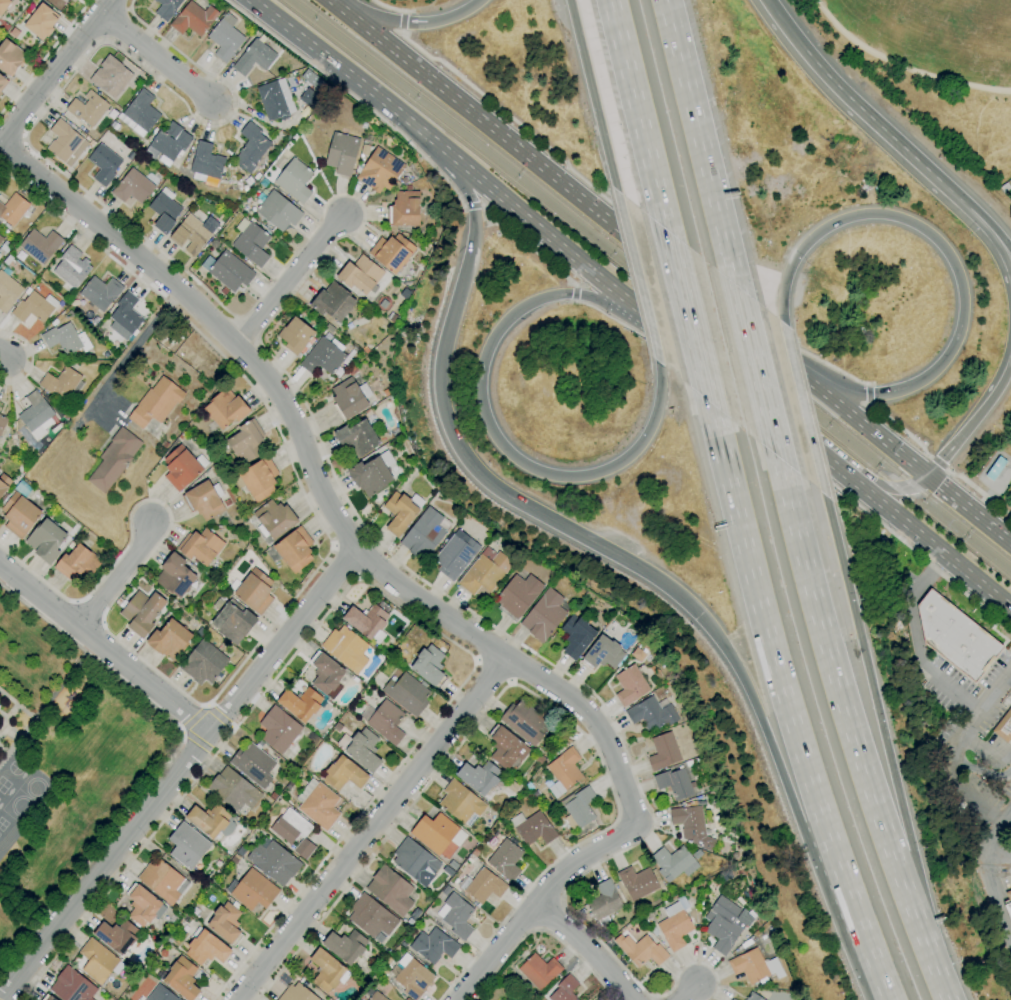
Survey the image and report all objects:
building: (71, 1)
building: (3, 5)
road: (392, 7)
building: (166, 8)
road: (127, 9)
road: (404, 12)
building: (193, 19)
building: (40, 21)
road: (403, 22)
road: (409, 22)
road: (114, 23)
road: (782, 30)
road: (401, 31)
building: (12, 32)
building: (225, 38)
road: (103, 39)
road: (44, 56)
building: (10, 57)
road: (156, 57)
building: (254, 58)
road: (903, 64)
road: (446, 67)
road: (55, 69)
park: (939, 69)
building: (110, 76)
building: (2, 83)
building: (0, 94)
road: (593, 95)
road: (352, 96)
building: (309, 99)
building: (272, 101)
building: (87, 108)
building: (142, 111)
road: (641, 117)
road: (872, 126)
road: (23, 140)
building: (170, 141)
building: (65, 143)
road: (702, 145)
building: (250, 147)
building: (364, 149)
building: (342, 153)
road: (10, 154)
building: (206, 161)
building: (104, 164)
building: (379, 170)
building: (294, 180)
building: (133, 187)
road: (492, 188)
building: (1004, 188)
road: (471, 206)
building: (13, 209)
building: (404, 209)
building: (277, 211)
building: (164, 213)
road: (982, 216)
road: (647, 231)
building: (194, 233)
building: (0, 236)
road: (985, 236)
road: (628, 237)
building: (1, 239)
building: (252, 244)
building: (40, 245)
road: (527, 246)
building: (4, 248)
building: (391, 252)
road: (950, 259)
building: (72, 267)
road: (180, 269)
building: (230, 271)
building: (359, 275)
road: (639, 278)
railway: (656, 279)
road: (289, 282)
railway: (648, 287)
building: (8, 292)
building: (100, 292)
road: (575, 293)
building: (333, 303)
building: (32, 308)
building: (126, 313)
road: (690, 321)
building: (295, 336)
building: (65, 339)
road: (133, 347)
building: (323, 356)
road: (1, 358)
road: (31, 359)
road: (835, 369)
road: (759, 377)
building: (60, 383)
road: (869, 385)
road: (869, 394)
building: (349, 398)
building: (155, 403)
road: (756, 403)
road: (868, 405)
building: (226, 408)
building: (35, 411)
road: (806, 412)
road: (973, 417)
road: (486, 420)
building: (2, 422)
road: (899, 427)
building: (356, 439)
building: (246, 442)
road: (811, 447)
road: (791, 452)
building: (114, 460)
road: (938, 463)
building: (180, 468)
building: (995, 468)
building: (372, 474)
traffic signals: (927, 476)
building: (259, 479)
building: (4, 483)
road: (883, 489)
road: (978, 491)
building: (203, 501)
building: (226, 503)
road: (969, 509)
building: (399, 513)
building: (19, 515)
building: (248, 515)
building: (274, 519)
building: (423, 535)
road: (925, 539)
building: (46, 541)
building: (200, 546)
road: (334, 546)
building: (294, 549)
road: (606, 554)
building: (455, 555)
road: (347, 560)
building: (77, 564)
building: (485, 572)
road: (116, 576)
building: (174, 576)
road: (358, 576)
road: (401, 585)
road: (372, 586)
building: (254, 591)
building: (517, 596)
building: (142, 612)
building: (544, 616)
traffic signals: (698, 616)
building: (367, 619)
building: (233, 621)
road: (267, 631)
building: (576, 636)
building: (955, 636)
building: (169, 639)
road: (918, 640)
road: (105, 648)
building: (346, 649)
building: (394, 654)
building: (602, 654)
road: (539, 656)
road: (477, 660)
building: (203, 663)
building: (429, 665)
road: (494, 669)
building: (325, 673)
road: (510, 681)
building: (630, 685)
road: (524, 691)
building: (407, 694)
parking lot: (968, 701)
building: (300, 704)
road: (205, 707)
road: (788, 707)
building: (651, 714)
road: (192, 720)
building: (524, 721)
building: (386, 722)
building: (337, 727)
building: (1004, 727)
building: (279, 729)
road: (851, 730)
road: (183, 733)
road: (199, 744)
road: (886, 744)
building: (506, 747)
road: (954, 748)
building: (361, 749)
building: (558, 750)
building: (663, 752)
building: (539, 760)
road: (167, 761)
building: (688, 763)
building: (253, 764)
building: (565, 768)
road: (981, 771)
road: (175, 774)
building: (344, 774)
building: (479, 777)
building: (547, 783)
building: (674, 783)
park: (3, 785)
building: (233, 790)
building: (460, 802)
building: (318, 804)
building: (578, 808)
parking lot: (986, 808)
building: (550, 813)
building: (209, 819)
building: (691, 826)
building: (535, 829)
road: (370, 830)
building: (293, 832)
building: (434, 832)
road: (997, 836)
building: (187, 846)
building: (734, 855)
building: (470, 859)
building: (505, 860)
building: (273, 861)
building: (415, 862)
building: (671, 862)
building: (162, 881)
building: (637, 882)
building: (484, 886)
building: (253, 890)
building: (390, 890)
building: (445, 891)
road: (998, 896)
building: (603, 901)
building: (1008, 903)
building: (142, 905)
building: (371, 916)
building: (457, 916)
building: (226, 923)
building: (725, 924)
building: (674, 929)
road: (542, 931)
building: (117, 936)
road: (601, 944)
building: (346, 946)
building: (433, 946)
building: (206, 948)
building: (640, 950)
road: (582, 953)
building: (97, 960)
building: (749, 966)
building: (328, 971)
building: (539, 971)
building: (412, 977)
building: (182, 978)
park: (2, 980)
building: (72, 986)
building: (564, 989)
road: (685, 992)
building: (297, 993)
building: (160, 994)
road: (943, 995)
building: (377, 996)
building: (753, 996)
building: (48, 998)
building: (732, 999)

